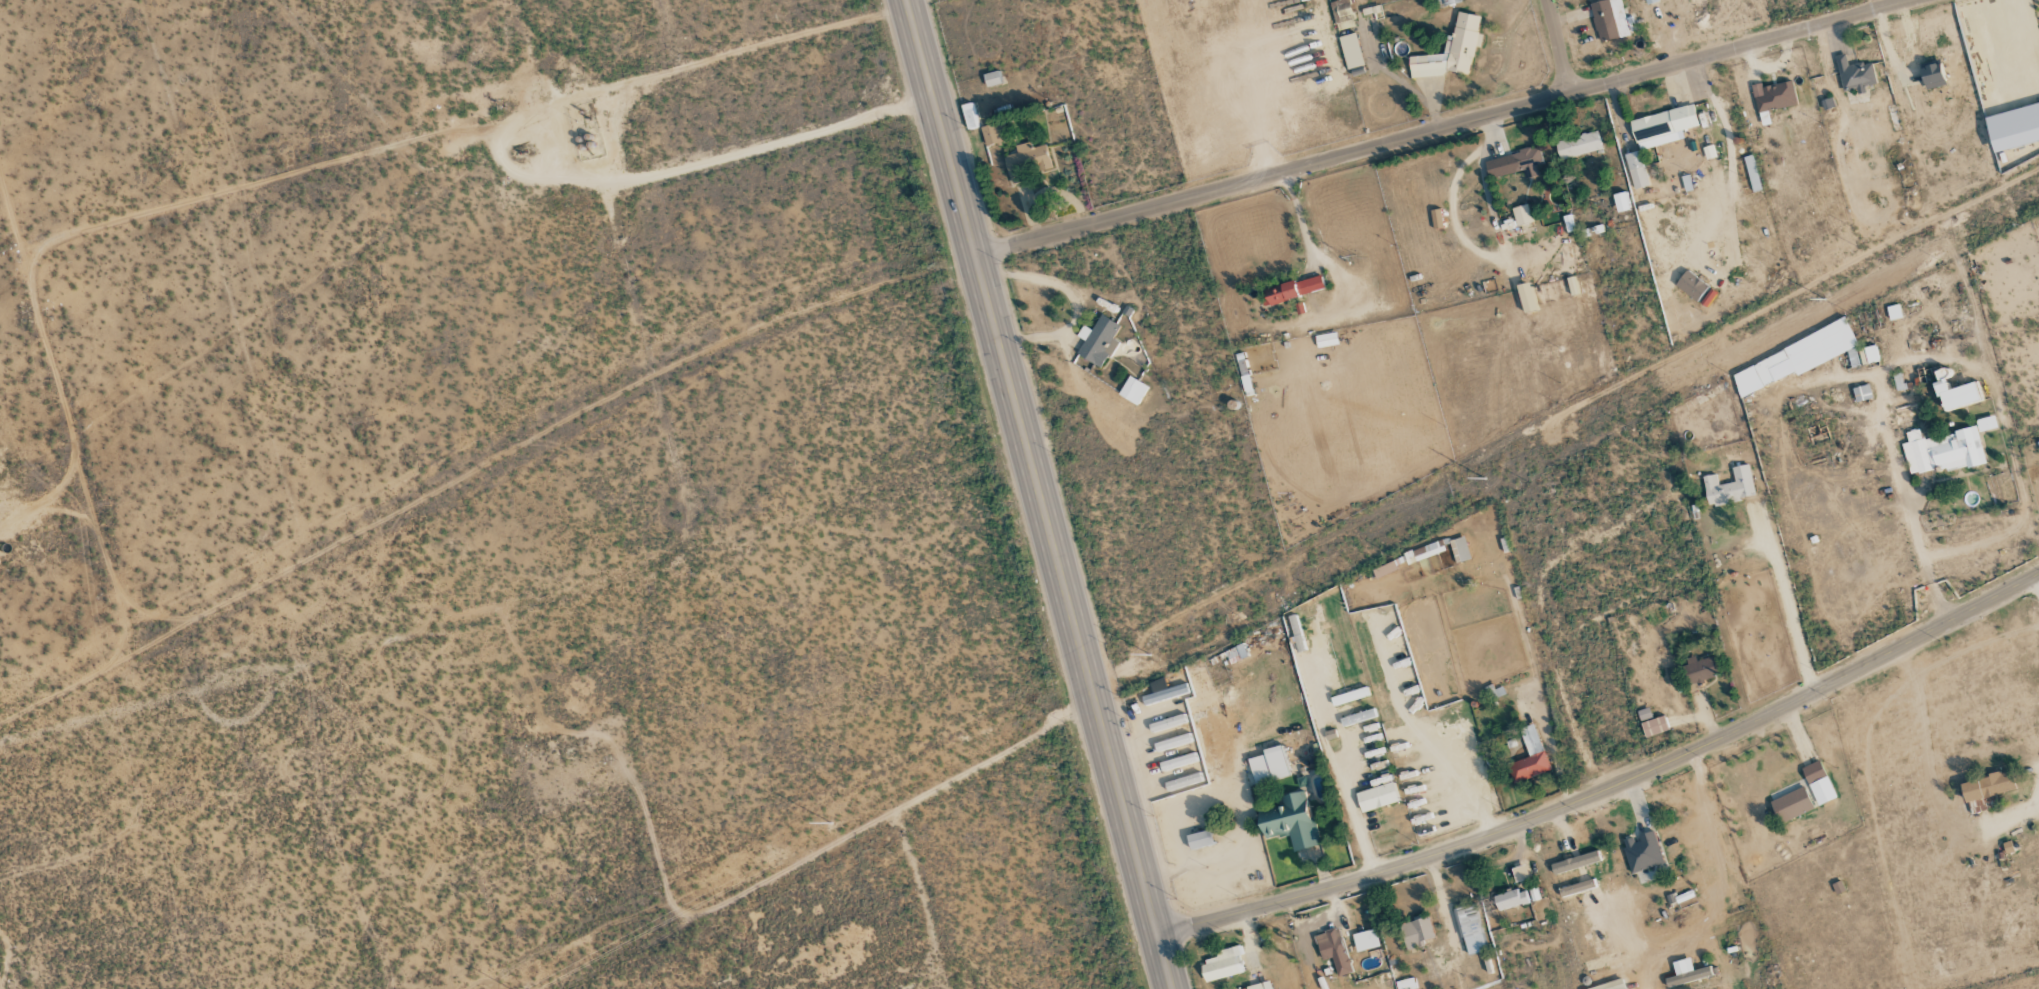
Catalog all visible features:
building: (1650, 1)
building: (1447, 2)
building: (1611, 20)
road: (1559, 47)
building: (1452, 49)
building: (1351, 50)
building: (1854, 74)
building: (1931, 75)
building: (991, 78)
building: (1776, 96)
building: (970, 115)
building: (1662, 126)
building: (2013, 126)
road: (1445, 128)
building: (993, 133)
building: (1578, 145)
building: (1026, 160)
building: (1514, 163)
building: (1636, 169)
building: (1751, 173)
building: (1621, 201)
building: (1521, 214)
road: (1466, 242)
building: (1691, 285)
building: (1291, 290)
building: (1894, 311)
building: (1097, 341)
building: (1868, 354)
building: (1853, 357)
building: (1794, 358)
building: (1898, 381)
building: (1133, 390)
building: (1861, 392)
building: (1956, 392)
building: (1986, 424)
building: (1942, 450)
building: (1729, 486)
road: (1040, 494)
building: (1459, 549)
building: (1426, 551)
building: (1384, 569)
road: (2037, 580)
road: (1786, 603)
building: (1236, 653)
building: (1699, 669)
building: (1349, 696)
building: (1644, 714)
building: (1358, 717)
building: (1654, 726)
building: (1529, 757)
building: (1268, 765)
road: (1610, 782)
building: (1818, 782)
building: (1987, 786)
building: (1376, 797)
building: (1791, 805)
building: (1290, 821)
building: (1199, 839)
building: (2007, 847)
building: (1642, 852)
building: (1575, 862)
building: (1519, 873)
building: (1577, 888)
building: (1510, 900)
building: (1470, 929)
building: (1417, 932)
building: (1370, 942)
building: (1333, 950)
building: (1223, 965)
building: (1688, 976)
building: (1406, 984)
building: (1611, 985)
building: (1257, 986)

